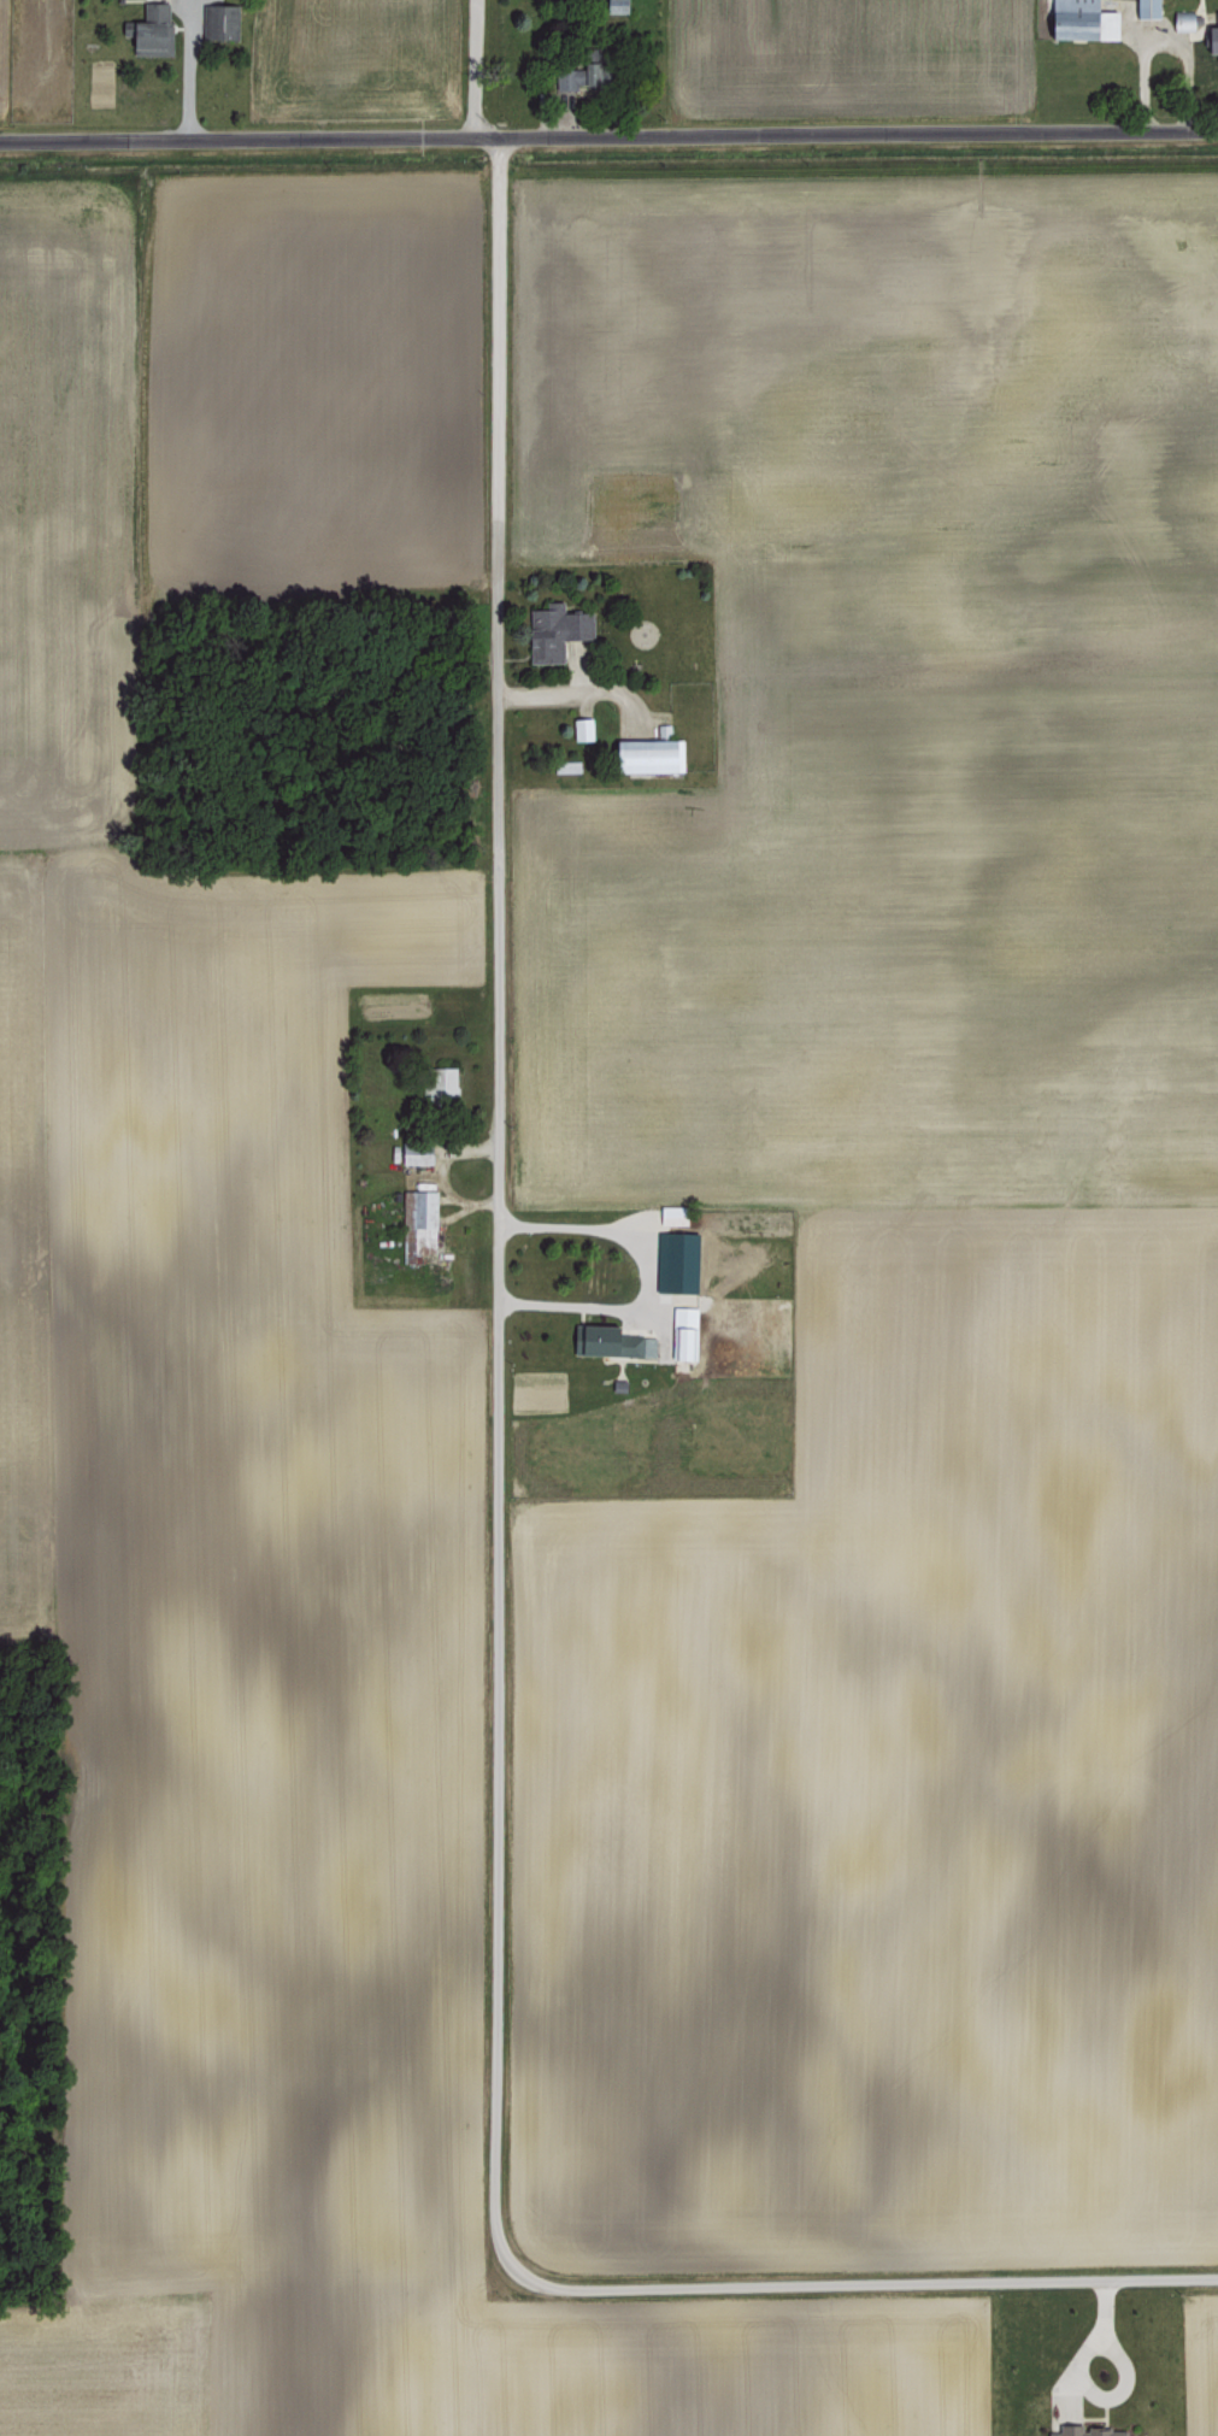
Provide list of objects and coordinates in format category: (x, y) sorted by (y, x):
building: (613, 6)
building: (1146, 8)
building: (220, 20)
building: (1077, 20)
building: (1196, 28)
road: (187, 70)
road: (472, 70)
building: (577, 77)
road: (608, 135)
building: (552, 630)
building: (579, 726)
building: (643, 754)
building: (564, 765)
building: (440, 1081)
building: (413, 1157)
building: (671, 1213)
building: (418, 1216)
road: (493, 1278)
road: (640, 1278)
building: (682, 1332)
building: (607, 1340)
road: (934, 2279)
road: (1089, 2343)
building: (1076, 2422)

